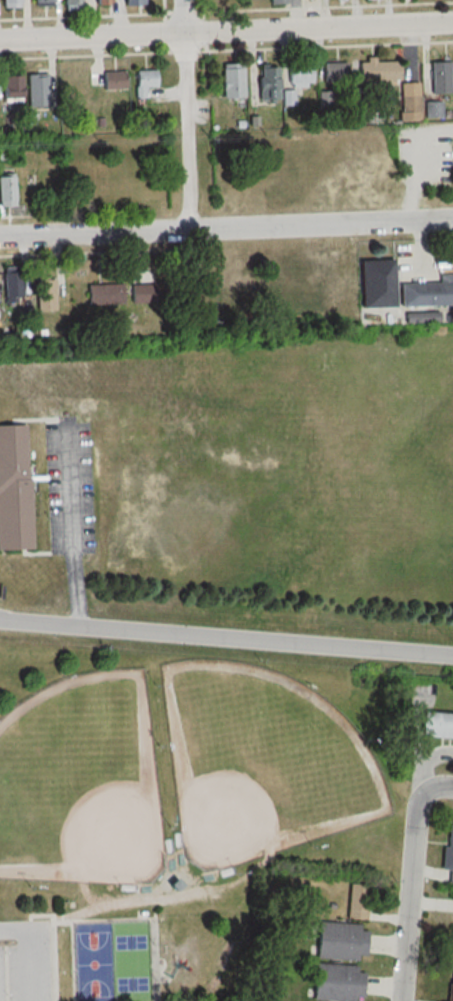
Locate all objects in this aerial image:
building: (40, 2)
building: (103, 2)
building: (8, 3)
building: (71, 5)
road: (226, 30)
building: (113, 81)
building: (10, 89)
building: (36, 90)
road: (188, 113)
building: (7, 191)
road: (226, 226)
building: (11, 284)
building: (427, 291)
building: (44, 293)
building: (103, 294)
road: (226, 637)
building: (435, 723)
park: (261, 761)
park: (81, 781)
road: (438, 785)
park: (181, 807)
building: (447, 851)
road: (412, 895)
road: (93, 897)
road: (162, 897)
road: (144, 922)
building: (451, 936)
road: (55, 940)
building: (336, 940)
road: (32, 949)
parking lot: (24, 961)
park: (131, 961)
road: (73, 962)
park: (94, 962)
building: (335, 982)
building: (450, 984)

